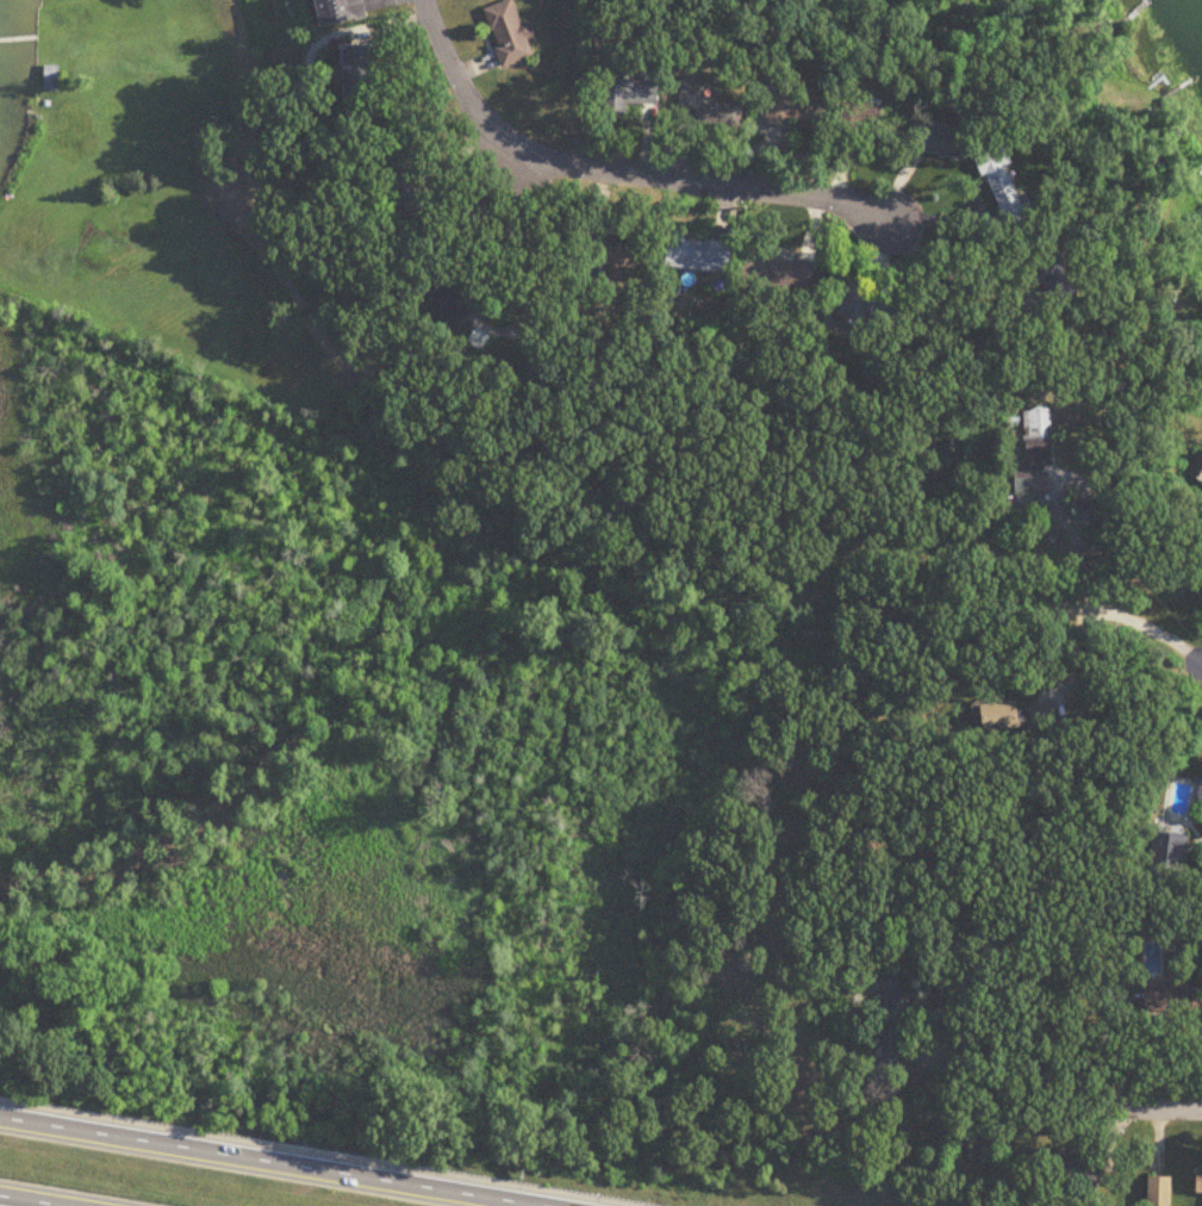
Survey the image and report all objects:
building: (342, 11)
building: (504, 20)
building: (357, 74)
building: (51, 77)
building: (629, 95)
building: (709, 105)
building: (790, 107)
building: (862, 116)
building: (942, 141)
road: (617, 173)
building: (1008, 187)
building: (618, 255)
building: (702, 255)
road: (518, 257)
building: (780, 272)
road: (999, 288)
building: (448, 297)
building: (866, 309)
building: (1038, 434)
building: (1197, 471)
building: (1030, 485)
road: (1092, 607)
road: (504, 608)
building: (1200, 796)
building: (1179, 999)
building: (892, 1020)
road: (1015, 1064)
road: (1152, 1100)
road: (262, 1162)
building: (1078, 1173)
building: (1200, 1182)
building: (1161, 1192)
road: (23, 1201)

